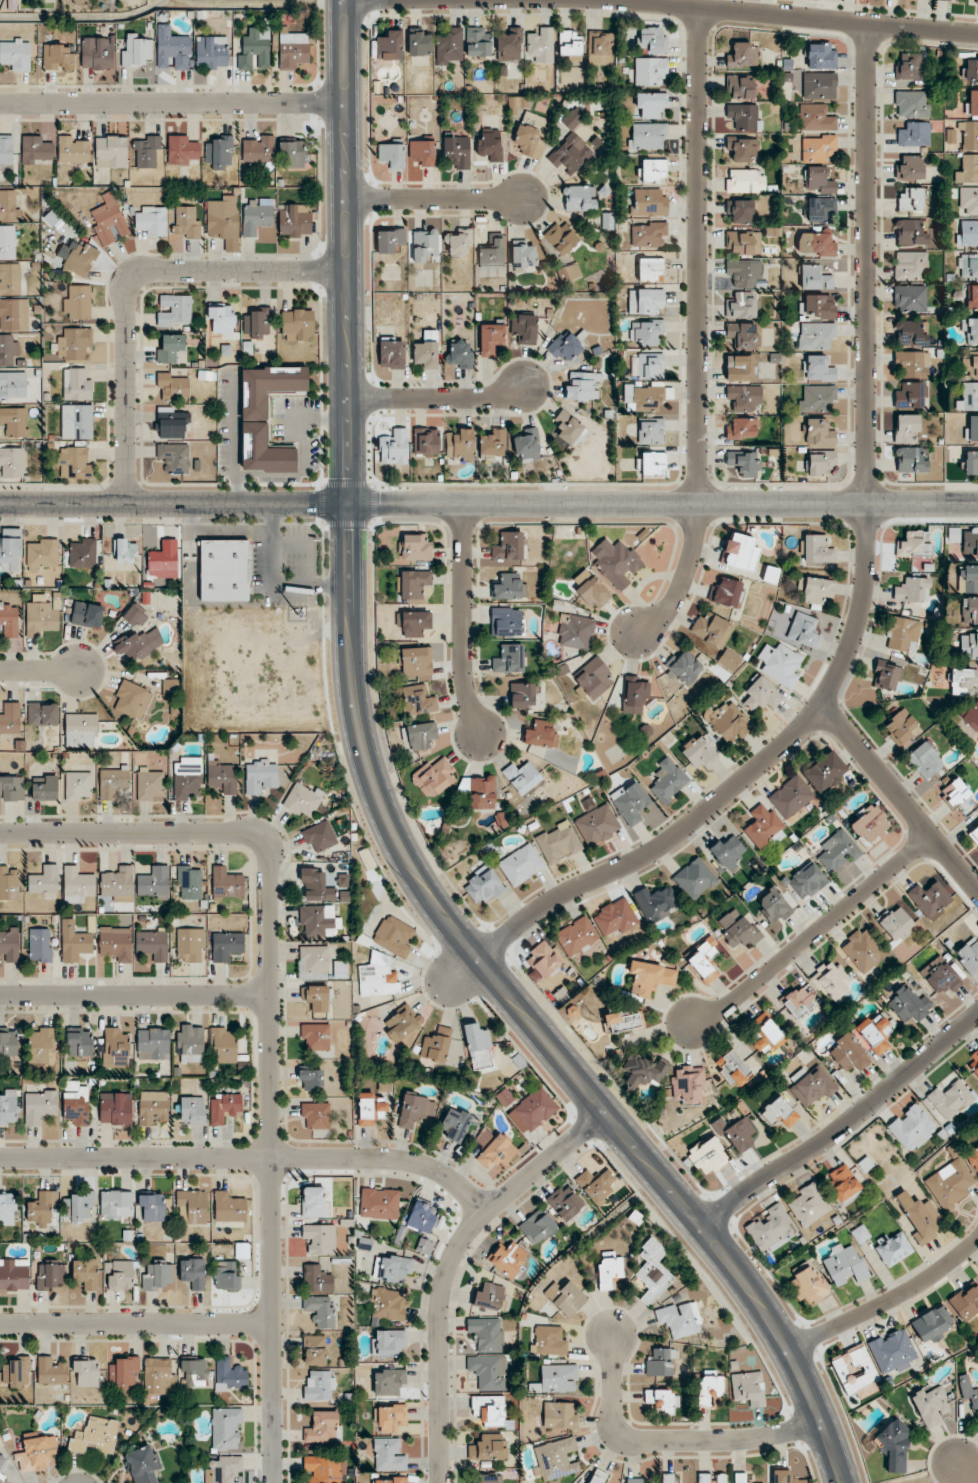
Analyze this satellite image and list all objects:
building: (944, 0)
building: (976, 1)
road: (789, 16)
building: (652, 41)
building: (419, 42)
building: (478, 42)
building: (513, 43)
building: (569, 44)
building: (541, 45)
building: (388, 46)
building: (450, 47)
building: (600, 48)
building: (136, 49)
building: (254, 49)
building: (172, 50)
building: (292, 50)
building: (211, 52)
building: (97, 53)
building: (16, 54)
building: (742, 56)
building: (820, 56)
building: (58, 57)
building: (909, 67)
building: (971, 70)
building: (650, 71)
building: (819, 85)
building: (739, 87)
road: (173, 102)
building: (973, 102)
building: (911, 104)
building: (651, 105)
building: (744, 117)
building: (815, 118)
building: (571, 120)
building: (531, 134)
building: (914, 134)
building: (588, 135)
building: (970, 135)
building: (648, 137)
building: (490, 144)
building: (742, 149)
building: (819, 149)
building: (74, 150)
building: (258, 150)
building: (457, 150)
building: (36, 151)
building: (111, 151)
building: (182, 151)
building: (423, 151)
building: (5, 152)
building: (146, 152)
building: (220, 153)
building: (571, 153)
building: (292, 154)
building: (392, 154)
building: (909, 168)
building: (968, 169)
building: (653, 171)
building: (820, 180)
building: (745, 181)
road: (435, 198)
building: (578, 199)
building: (911, 199)
building: (968, 200)
building: (649, 203)
building: (9, 206)
building: (822, 209)
building: (739, 211)
building: (256, 216)
building: (109, 221)
building: (151, 221)
building: (221, 221)
building: (295, 221)
building: (607, 221)
building: (186, 223)
building: (910, 232)
building: (967, 233)
building: (648, 234)
building: (560, 238)
building: (389, 240)
building: (460, 242)
building: (744, 242)
building: (7, 243)
building: (816, 244)
building: (425, 246)
road: (347, 251)
building: (491, 252)
building: (524, 255)
building: (81, 259)
building: (910, 265)
building: (968, 266)
building: (649, 270)
building: (744, 273)
building: (814, 278)
building: (9, 279)
road: (127, 281)
building: (972, 297)
building: (910, 298)
building: (77, 302)
building: (645, 302)
building: (741, 305)
building: (819, 306)
building: (174, 311)
building: (12, 314)
building: (221, 319)
building: (258, 323)
building: (297, 324)
building: (524, 329)
building: (970, 330)
road: (697, 331)
building: (646, 332)
building: (910, 333)
building: (743, 335)
building: (816, 335)
building: (491, 338)
building: (73, 343)
building: (169, 347)
building: (565, 347)
building: (8, 350)
building: (391, 353)
building: (460, 354)
building: (425, 355)
building: (971, 363)
building: (913, 364)
building: (651, 366)
building: (741, 367)
building: (818, 369)
building: (12, 385)
building: (76, 385)
building: (583, 386)
building: (172, 387)
building: (910, 395)
building: (968, 397)
road: (438, 398)
building: (744, 398)
building: (647, 399)
building: (817, 399)
building: (266, 417)
building: (14, 422)
building: (76, 422)
building: (173, 423)
building: (905, 427)
building: (569, 428)
building: (742, 428)
building: (971, 429)
building: (651, 431)
building: (819, 432)
building: (425, 442)
building: (460, 444)
building: (493, 445)
building: (527, 445)
building: (394, 447)
building: (174, 458)
building: (912, 459)
building: (12, 462)
building: (971, 462)
building: (74, 463)
building: (744, 463)
building: (821, 463)
building: (652, 464)
road: (266, 472)
road: (237, 488)
road: (174, 504)
road: (663, 504)
road: (231, 532)
building: (952, 534)
building: (969, 541)
building: (913, 544)
building: (514, 545)
building: (10, 546)
building: (416, 547)
building: (817, 549)
road: (190, 551)
building: (740, 552)
building: (82, 553)
building: (125, 554)
building: (42, 555)
building: (163, 556)
building: (616, 563)
building: (224, 571)
building: (967, 579)
road: (272, 582)
building: (414, 584)
building: (515, 587)
building: (816, 590)
building: (912, 590)
building: (727, 592)
building: (594, 593)
road: (862, 606)
building: (969, 610)
building: (87, 615)
building: (40, 616)
building: (135, 616)
building: (8, 620)
road: (464, 622)
building: (414, 623)
building: (513, 623)
building: (712, 629)
building: (803, 630)
building: (575, 631)
building: (903, 632)
building: (141, 644)
building: (969, 645)
building: (515, 658)
building: (416, 662)
building: (780, 664)
building: (684, 667)
road: (39, 670)
building: (887, 677)
building: (593, 679)
building: (962, 681)
building: (763, 694)
building: (522, 695)
building: (635, 695)
building: (131, 700)
building: (418, 701)
building: (42, 714)
building: (972, 716)
building: (9, 719)
building: (728, 721)
building: (901, 726)
building: (81, 731)
building: (541, 734)
building: (420, 736)
building: (698, 752)
building: (924, 760)
building: (824, 771)
building: (260, 776)
building: (437, 777)
building: (523, 777)
building: (222, 778)
building: (187, 780)
building: (668, 781)
building: (112, 783)
building: (78, 786)
building: (150, 786)
building: (11, 788)
building: (44, 788)
building: (954, 792)
building: (482, 793)
building: (791, 797)
road: (900, 798)
building: (303, 799)
building: (630, 803)
building: (645, 811)
building: (869, 824)
building: (597, 825)
building: (762, 825)
building: (974, 834)
building: (319, 837)
building: (558, 843)
building: (838, 851)
building: (728, 852)
building: (522, 864)
building: (695, 879)
building: (807, 881)
building: (43, 882)
building: (9, 883)
building: (154, 883)
building: (189, 883)
building: (77, 885)
building: (118, 885)
building: (315, 886)
building: (483, 886)
building: (929, 899)
building: (655, 903)
building: (773, 905)
building: (616, 917)
building: (318, 922)
building: (895, 922)
building: (737, 929)
road: (815, 933)
building: (394, 937)
building: (577, 937)
building: (74, 943)
building: (116, 943)
building: (190, 944)
building: (9, 945)
building: (152, 945)
building: (40, 946)
building: (226, 946)
building: (863, 950)
building: (968, 955)
building: (703, 960)
building: (543, 961)
building: (313, 963)
building: (940, 975)
building: (650, 978)
building: (378, 980)
building: (831, 980)
road: (135, 995)
building: (316, 998)
building: (797, 1001)
building: (909, 1004)
road: (528, 1018)
building: (621, 1020)
building: (401, 1024)
road: (270, 1029)
building: (874, 1033)
building: (767, 1035)
building: (316, 1036)
building: (190, 1040)
building: (9, 1042)
building: (79, 1042)
building: (153, 1044)
building: (223, 1045)
building: (436, 1045)
building: (42, 1047)
building: (115, 1048)
building: (478, 1048)
building: (848, 1053)
building: (973, 1063)
building: (733, 1067)
building: (642, 1070)
building: (311, 1078)
building: (688, 1084)
building: (950, 1100)
building: (76, 1103)
building: (40, 1106)
building: (224, 1106)
building: (8, 1108)
building: (115, 1108)
building: (153, 1109)
building: (371, 1109)
building: (535, 1109)
building: (192, 1111)
building: (416, 1111)
building: (779, 1113)
building: (316, 1115)
building: (455, 1125)
road: (844, 1126)
building: (911, 1128)
building: (740, 1135)
building: (495, 1151)
road: (252, 1157)
building: (708, 1157)
building: (973, 1158)
building: (843, 1182)
building: (950, 1184)
building: (596, 1186)
building: (312, 1202)
building: (565, 1203)
building: (379, 1204)
building: (116, 1205)
building: (809, 1205)
building: (78, 1206)
building: (192, 1206)
building: (42, 1207)
building: (151, 1207)
building: (228, 1207)
building: (6, 1209)
building: (422, 1217)
building: (920, 1217)
building: (536, 1227)
building: (771, 1229)
building: (318, 1240)
building: (424, 1247)
building: (892, 1248)
building: (515, 1262)
road: (450, 1264)
building: (844, 1265)
building: (393, 1268)
building: (229, 1271)
building: (85, 1273)
building: (193, 1273)
building: (14, 1275)
building: (49, 1275)
building: (156, 1275)
building: (120, 1276)
building: (652, 1277)
building: (317, 1279)
building: (808, 1286)
building: (489, 1296)
building: (565, 1298)
road: (887, 1301)
building: (965, 1302)
building: (388, 1305)
building: (321, 1311)
building: (679, 1319)
road: (136, 1324)
building: (931, 1324)
building: (487, 1334)
building: (550, 1341)
building: (388, 1343)
building: (314, 1351)
building: (892, 1351)
building: (660, 1363)
building: (854, 1369)
building: (52, 1372)
building: (194, 1372)
building: (489, 1372)
building: (16, 1373)
building: (85, 1373)
building: (124, 1373)
building: (159, 1376)
building: (230, 1377)
building: (389, 1381)
building: (317, 1386)
building: (748, 1389)
building: (709, 1390)
building: (968, 1392)
building: (662, 1401)
building: (488, 1411)
building: (559, 1416)
building: (389, 1418)
building: (324, 1427)
building: (226, 1429)
building: (95, 1438)
road: (672, 1441)
building: (894, 1446)
building: (488, 1448)
building: (39, 1450)
building: (389, 1455)
building: (556, 1459)
building: (2, 1462)
building: (143, 1464)
road: (966, 1468)
building: (323, 1469)
building: (223, 1471)
building: (598, 1477)
building: (784, 1477)
building: (485, 1478)
building: (668, 1478)
building: (711, 1478)
building: (739, 1478)
building: (2, 1480)
building: (390, 1480)
building: (639, 1481)

